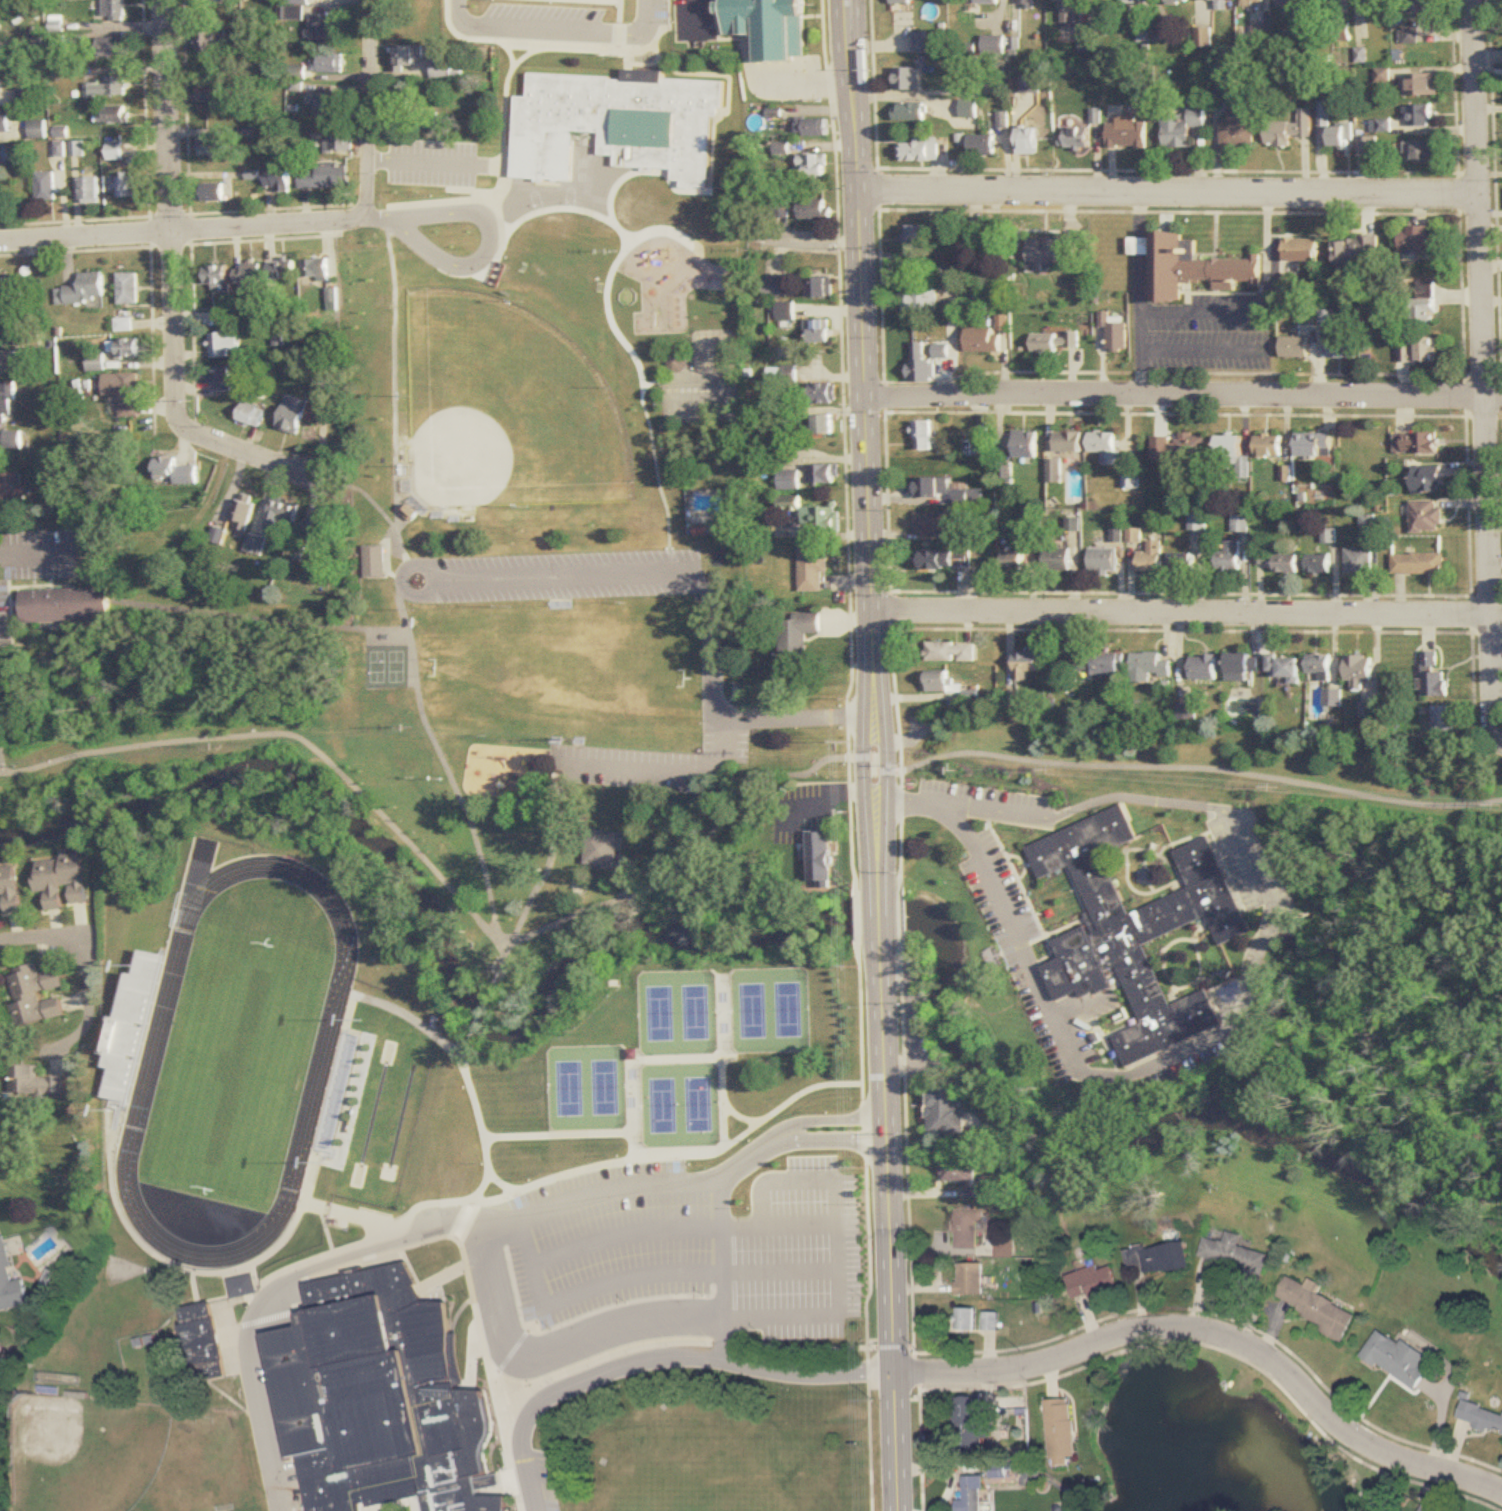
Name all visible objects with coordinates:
building: (1217, 0)
building: (904, 1)
building: (989, 1)
building: (1329, 1)
building: (209, 2)
building: (1135, 2)
building: (1179, 2)
building: (1256, 2)
building: (1291, 3)
building: (1377, 3)
building: (1031, 4)
building: (1419, 6)
building: (117, 11)
building: (1069, 11)
road: (696, 16)
building: (58, 24)
building: (767, 26)
building: (326, 27)
road: (553, 30)
building: (1410, 32)
building: (1089, 37)
building: (208, 42)
building: (921, 42)
building: (59, 45)
building: (114, 48)
building: (409, 57)
building: (328, 64)
building: (441, 69)
building: (907, 79)
road: (804, 81)
building: (1032, 83)
building: (1422, 84)
building: (110, 87)
building: (972, 88)
building: (211, 94)
building: (29, 97)
building: (327, 101)
road: (369, 108)
building: (970, 109)
building: (910, 112)
building: (1419, 115)
building: (117, 117)
building: (1004, 120)
building: (5, 122)
building: (617, 124)
building: (1381, 125)
building: (1240, 126)
building: (811, 127)
building: (1183, 127)
building: (40, 129)
building: (1290, 129)
building: (1128, 133)
building: (1341, 136)
building: (1077, 137)
building: (340, 141)
building: (1029, 141)
building: (983, 145)
building: (1367, 145)
building: (215, 148)
building: (60, 149)
building: (79, 149)
building: (920, 150)
building: (117, 151)
building: (1422, 152)
building: (4, 156)
building: (812, 165)
building: (323, 176)
building: (278, 178)
building: (47, 186)
building: (124, 187)
building: (92, 190)
road: (1167, 190)
building: (214, 192)
road: (604, 193)
building: (0, 203)
road: (68, 203)
road: (79, 203)
building: (812, 210)
road: (1140, 213)
road: (364, 219)
road: (180, 231)
building: (917, 235)
road: (782, 240)
building: (1421, 240)
road: (1140, 245)
road: (486, 246)
building: (1300, 251)
road: (1268, 252)
building: (1357, 252)
building: (1050, 253)
building: (1190, 268)
building: (283, 269)
building: (315, 270)
building: (216, 276)
building: (247, 276)
building: (774, 288)
building: (128, 289)
building: (820, 289)
building: (83, 291)
road: (172, 294)
building: (331, 299)
building: (979, 299)
building: (2, 300)
building: (920, 301)
building: (785, 312)
building: (1425, 314)
road: (1140, 324)
road: (1264, 330)
building: (818, 331)
road: (858, 332)
building: (1115, 334)
building: (981, 340)
building: (1054, 342)
building: (220, 345)
building: (1341, 346)
building: (1295, 348)
building: (125, 349)
park: (712, 350)
building: (1419, 351)
building: (9, 363)
building: (96, 363)
building: (675, 363)
road: (1486, 369)
building: (921, 371)
building: (220, 379)
building: (322, 389)
building: (124, 392)
building: (822, 394)
road: (1181, 394)
building: (8, 399)
road: (393, 401)
park: (699, 402)
park: (507, 408)
building: (291, 414)
building: (250, 415)
building: (823, 425)
building: (924, 436)
road: (649, 439)
building: (11, 441)
building: (1069, 443)
building: (1422, 443)
building: (1024, 444)
building: (1315, 445)
building: (1269, 446)
building: (1105, 448)
building: (1192, 448)
building: (1235, 455)
building: (1053, 471)
building: (174, 473)
building: (825, 474)
building: (788, 480)
building: (1427, 480)
building: (932, 489)
building: (14, 491)
road: (369, 501)
building: (789, 507)
building: (283, 511)
building: (244, 513)
building: (1426, 518)
building: (821, 519)
building: (1239, 523)
building: (932, 524)
building: (325, 526)
building: (719, 527)
building: (145, 539)
building: (256, 545)
road: (38, 554)
parking lot: (41, 555)
building: (1229, 556)
building: (1150, 558)
building: (1102, 560)
building: (1056, 561)
building: (1279, 561)
building: (372, 562)
building: (1014, 562)
building: (1359, 562)
road: (385, 563)
building: (1182, 563)
building: (1319, 564)
building: (1419, 564)
building: (151, 565)
building: (812, 568)
road: (35, 570)
road: (52, 570)
parking lot: (547, 577)
road: (41, 586)
road: (700, 587)
park: (464, 589)
building: (66, 606)
road: (12, 611)
road: (1181, 614)
road: (258, 621)
parking lot: (5, 627)
building: (797, 636)
road: (69, 640)
building: (950, 652)
building: (1097, 664)
building: (1025, 665)
building: (1242, 666)
building: (1319, 666)
park: (384, 667)
building: (1146, 667)
building: (1203, 667)
building: (1285, 669)
building: (1358, 670)
park: (559, 673)
building: (1433, 677)
building: (941, 683)
road: (737, 693)
building: (1332, 698)
road: (726, 703)
road: (726, 704)
building: (1443, 721)
parking lot: (727, 742)
park: (1207, 762)
road: (0, 763)
road: (443, 763)
road: (874, 764)
road: (885, 767)
parking lot: (630, 768)
road: (861, 768)
road: (1201, 769)
road: (667, 772)
road: (826, 793)
road: (959, 806)
building: (600, 850)
building: (820, 857)
road: (548, 862)
road: (1256, 877)
building: (60, 880)
road: (877, 880)
road: (441, 884)
building: (9, 889)
road: (1005, 908)
road: (878, 917)
river: (756, 932)
building: (1139, 932)
road: (84, 946)
road: (501, 962)
building: (34, 996)
road: (482, 1008)
building: (130, 1029)
track: (322, 1058)
building: (34, 1084)
park: (384, 1084)
park: (416, 1090)
building: (945, 1112)
building: (819, 1134)
road: (776, 1136)
road: (485, 1151)
park: (364, 1163)
park: (397, 1174)
building: (963, 1176)
road: (642, 1184)
building: (829, 1211)
road: (777, 1222)
road: (740, 1224)
road: (890, 1227)
building: (968, 1227)
road: (622, 1235)
building: (1233, 1253)
parking lot: (611, 1254)
building: (1164, 1257)
building: (832, 1267)
road: (719, 1269)
road: (780, 1272)
road: (840, 1276)
building: (970, 1278)
building: (1091, 1280)
building: (9, 1281)
building: (240, 1284)
road: (587, 1285)
road: (275, 1286)
building: (1314, 1304)
building: (965, 1318)
building: (989, 1320)
road: (1217, 1336)
road: (555, 1338)
building: (201, 1341)
building: (1396, 1356)
road: (655, 1358)
building: (372, 1398)
building: (1480, 1416)
building: (968, 1421)
building: (1060, 1430)
park: (84, 1451)
building: (970, 1494)
building: (1426, 1507)

